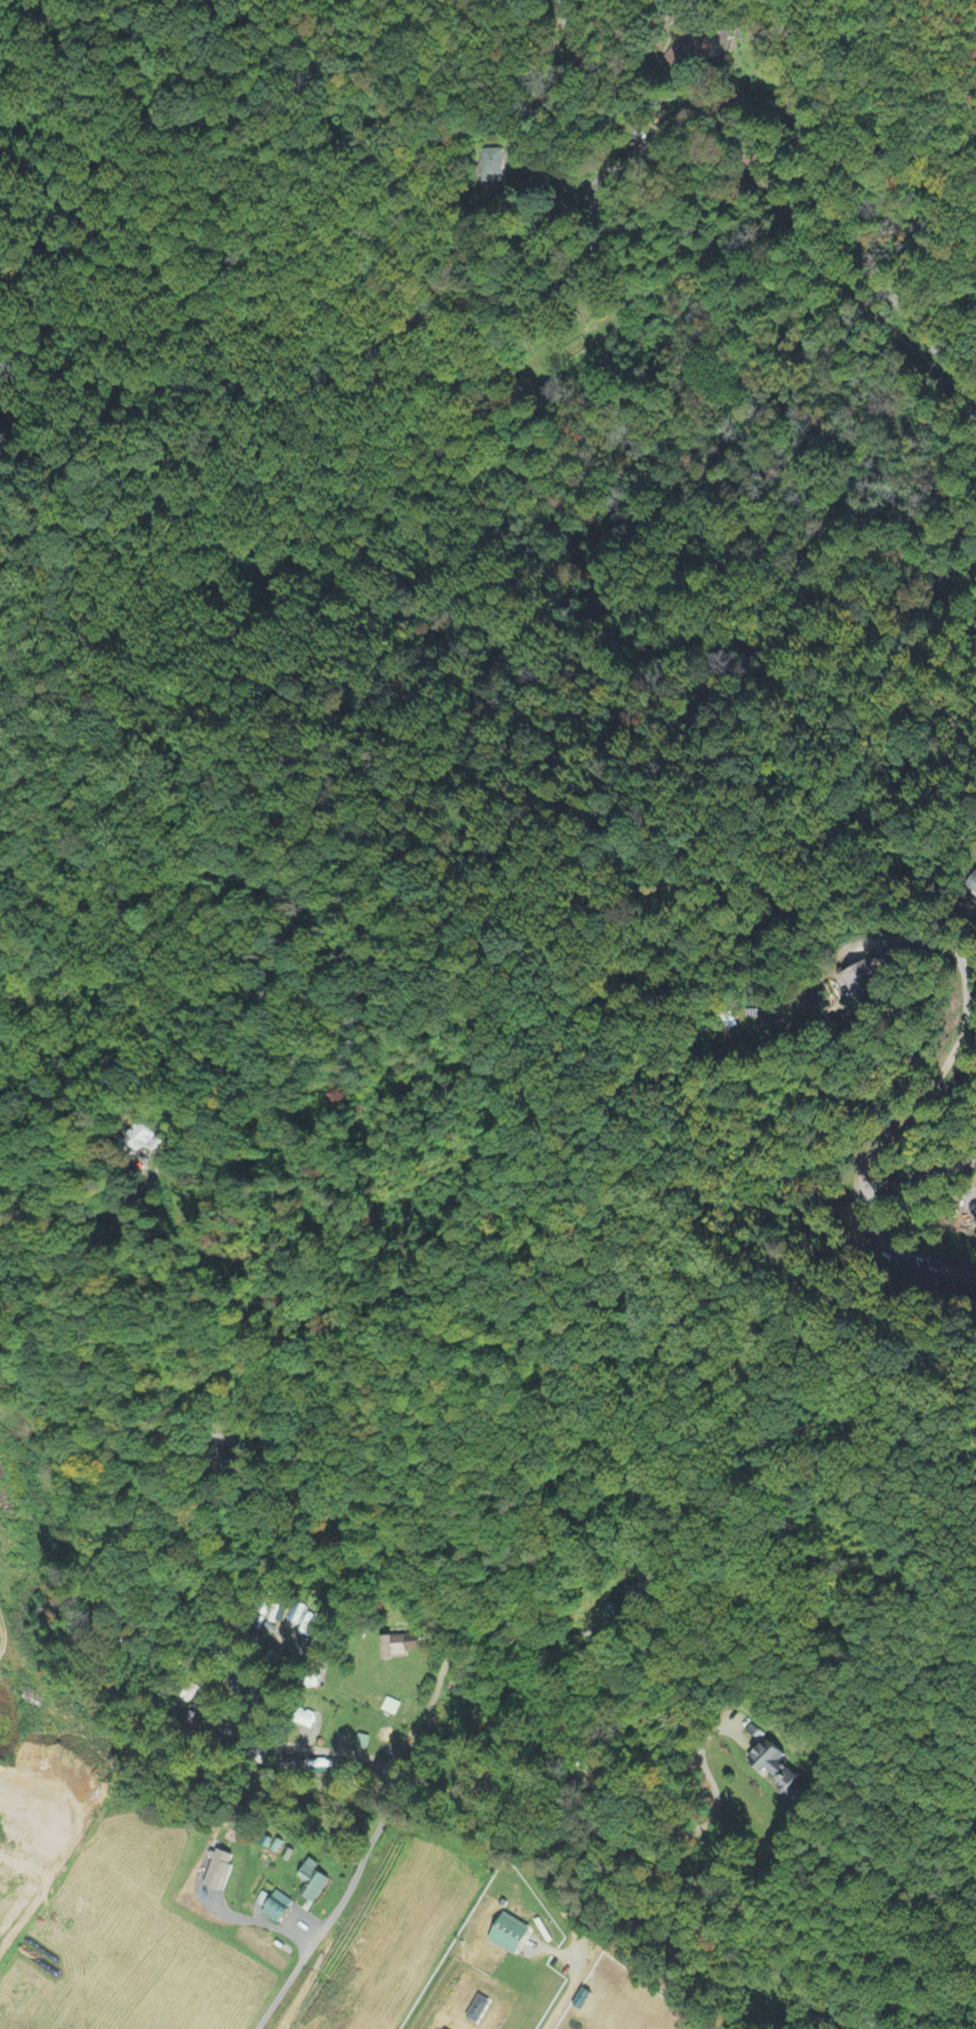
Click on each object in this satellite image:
road: (756, 19)
road: (471, 79)
road: (790, 117)
building: (861, 980)
road: (935, 1082)
building: (142, 1139)
road: (56, 1205)
road: (167, 1334)
building: (308, 1626)
road: (546, 1630)
building: (400, 1646)
road: (300, 1747)
building: (775, 1768)
road: (583, 1798)
road: (369, 1845)
building: (220, 1870)
building: (313, 1882)
building: (278, 1908)
road: (248, 1918)
road: (29, 1922)
building: (510, 1937)

